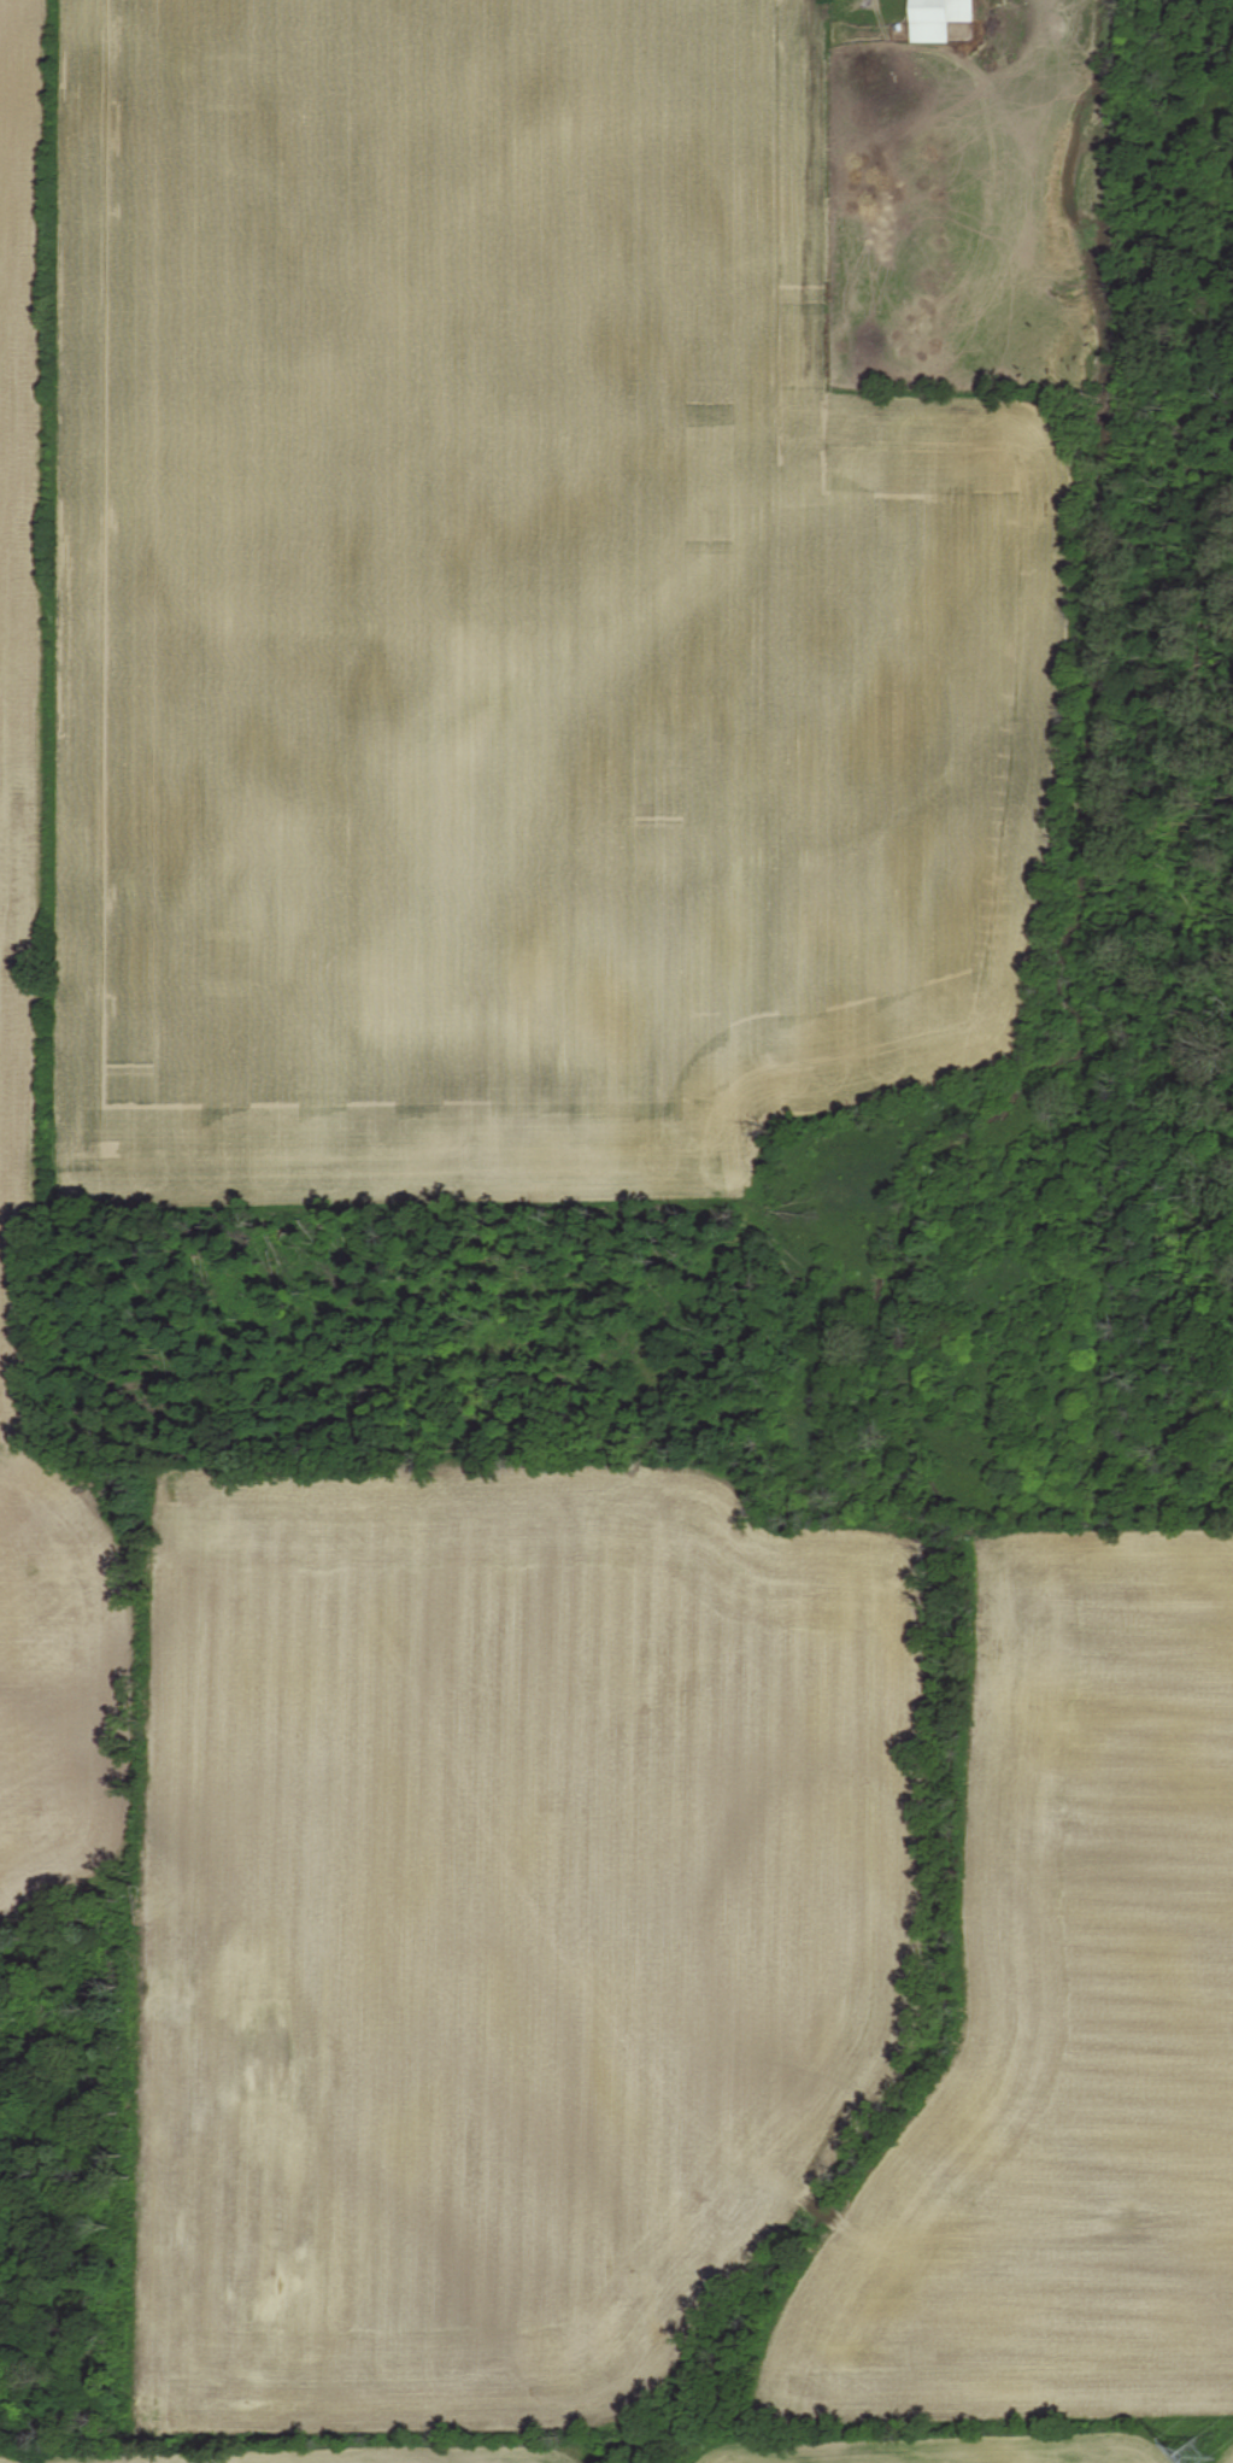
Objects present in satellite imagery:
building: (923, 22)
power tower: (1190, 2455)

